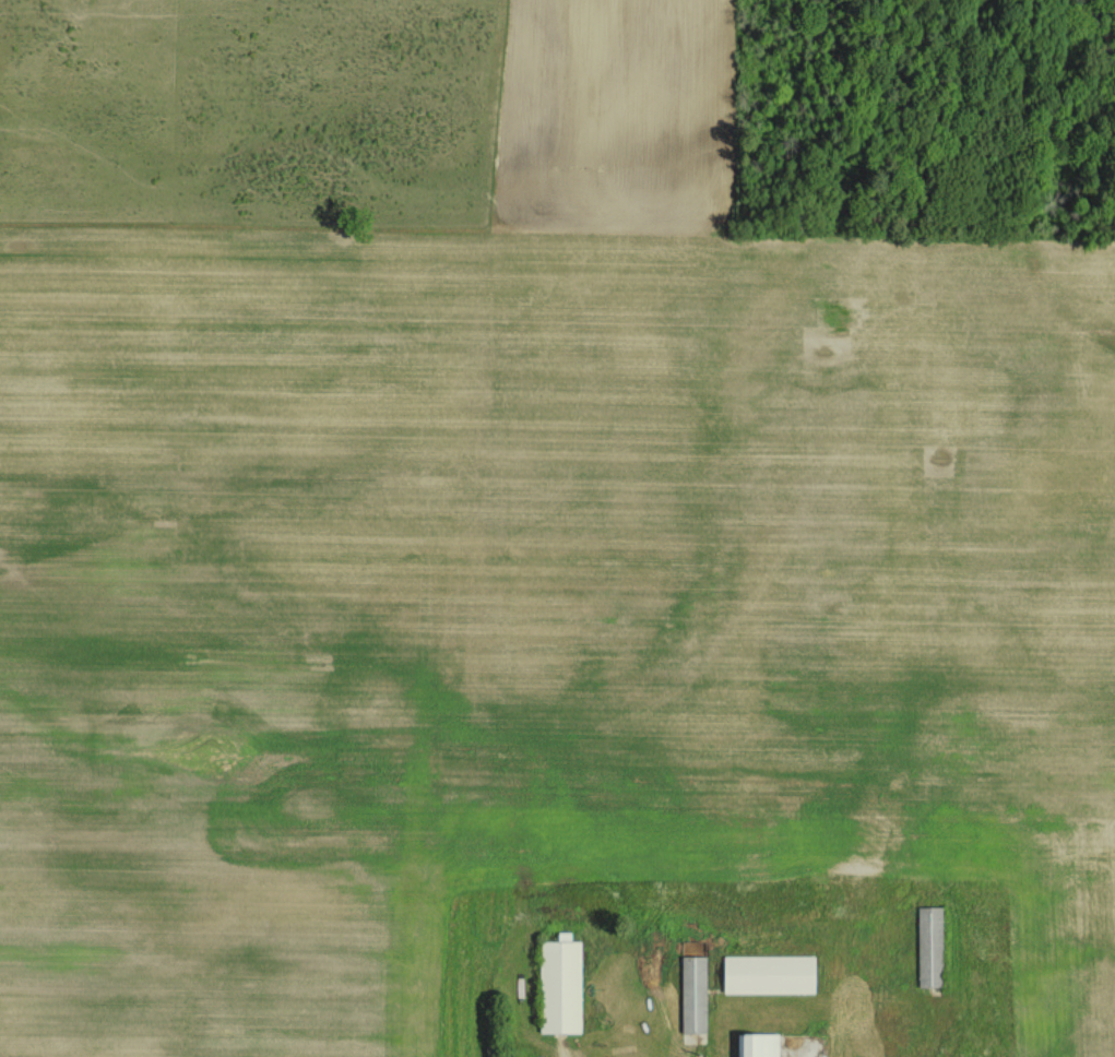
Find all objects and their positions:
building: (928, 947)
building: (767, 973)
building: (559, 984)
building: (692, 994)
building: (757, 1044)

